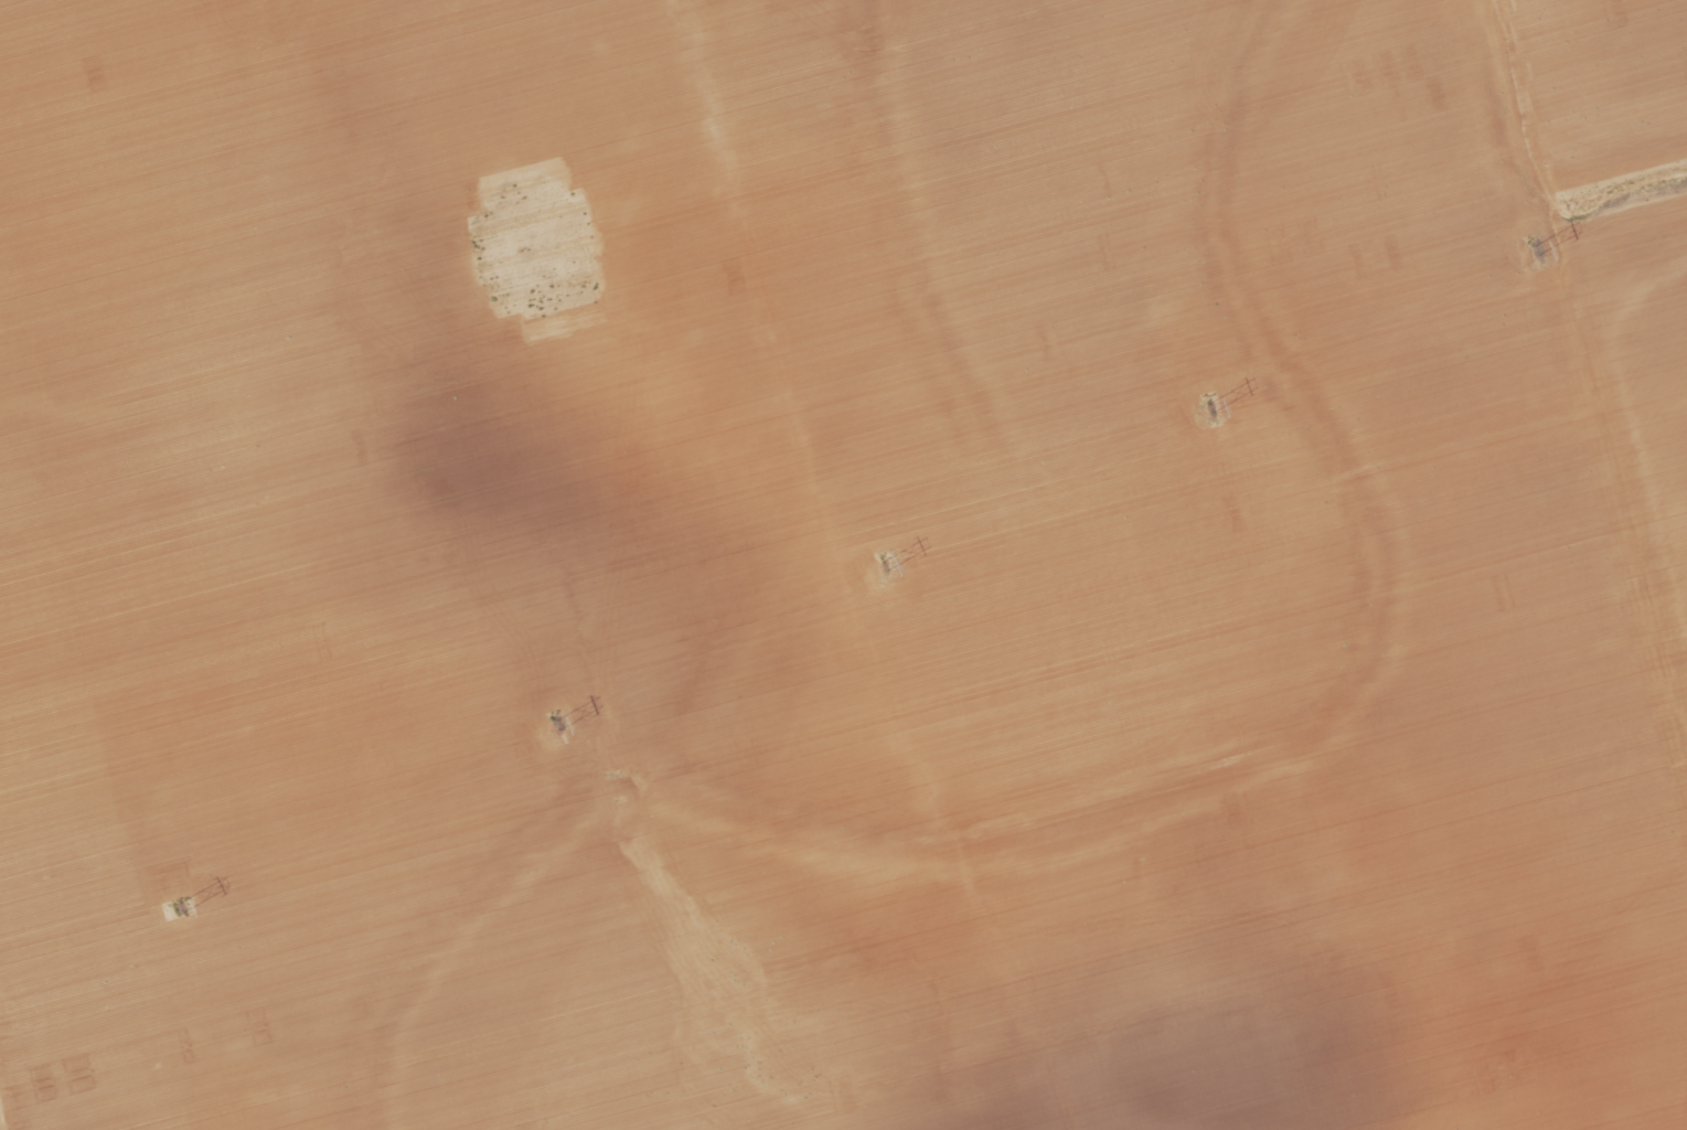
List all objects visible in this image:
power tower: (1538, 248)
road: (1579, 383)
power tower: (1211, 408)
power tower: (886, 565)
power tower: (558, 722)
power tower: (185, 905)

